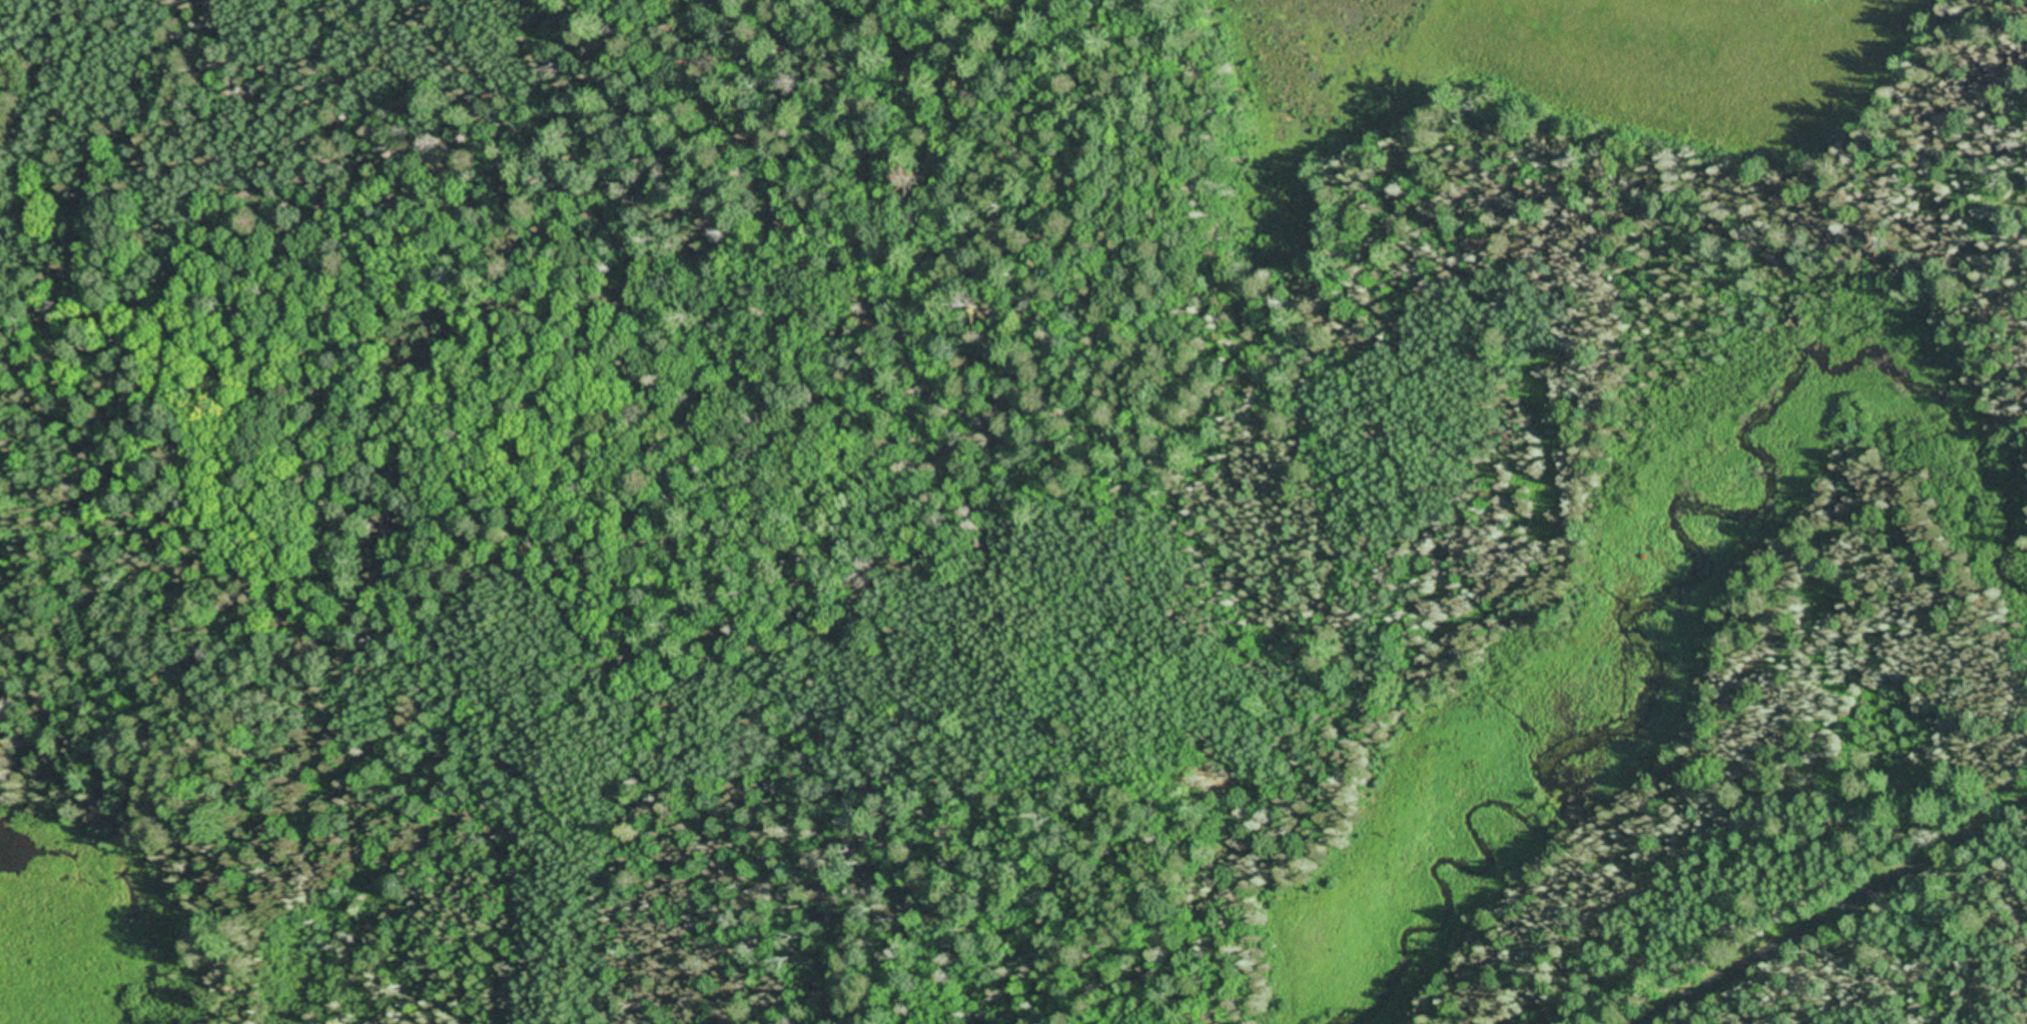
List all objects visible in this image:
road: (377, 448)
road: (1835, 914)

